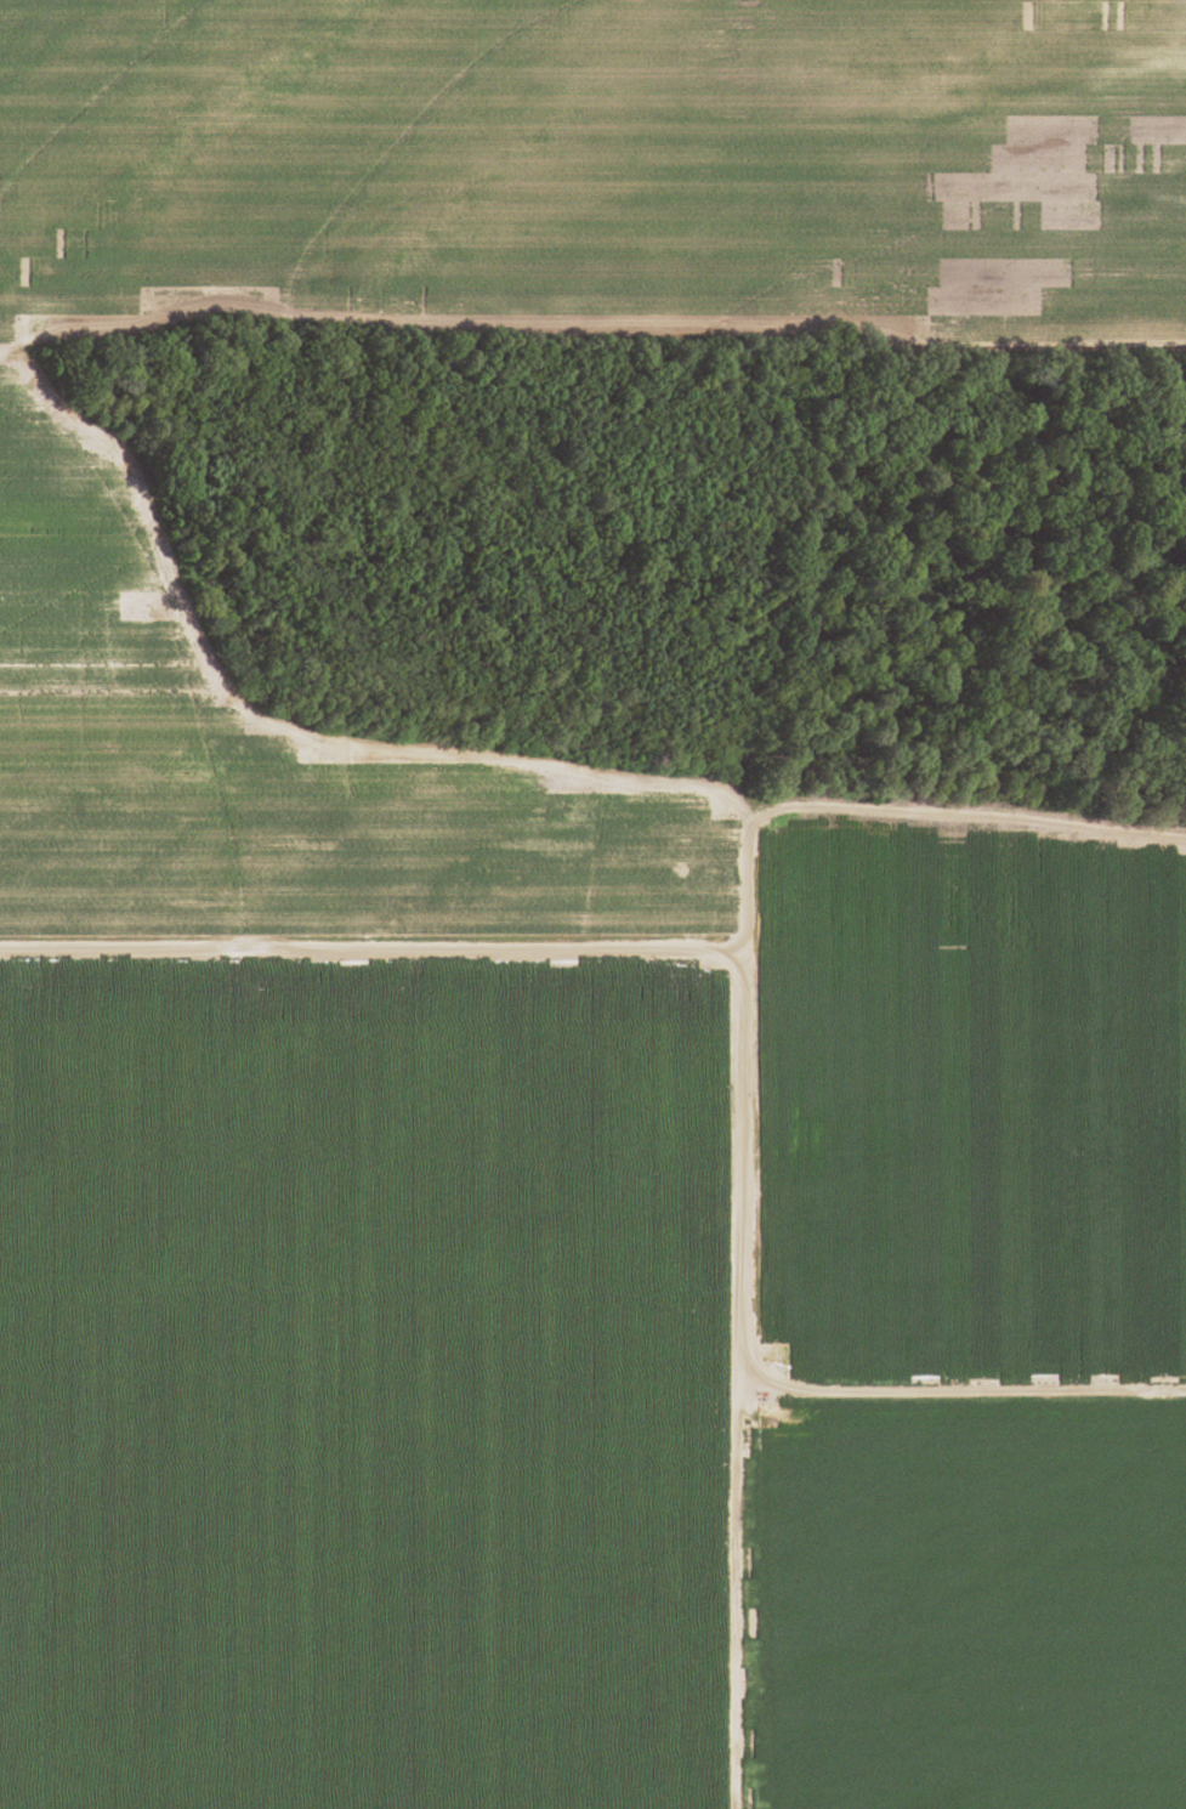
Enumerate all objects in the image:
road: (495, 753)
road: (438, 959)

